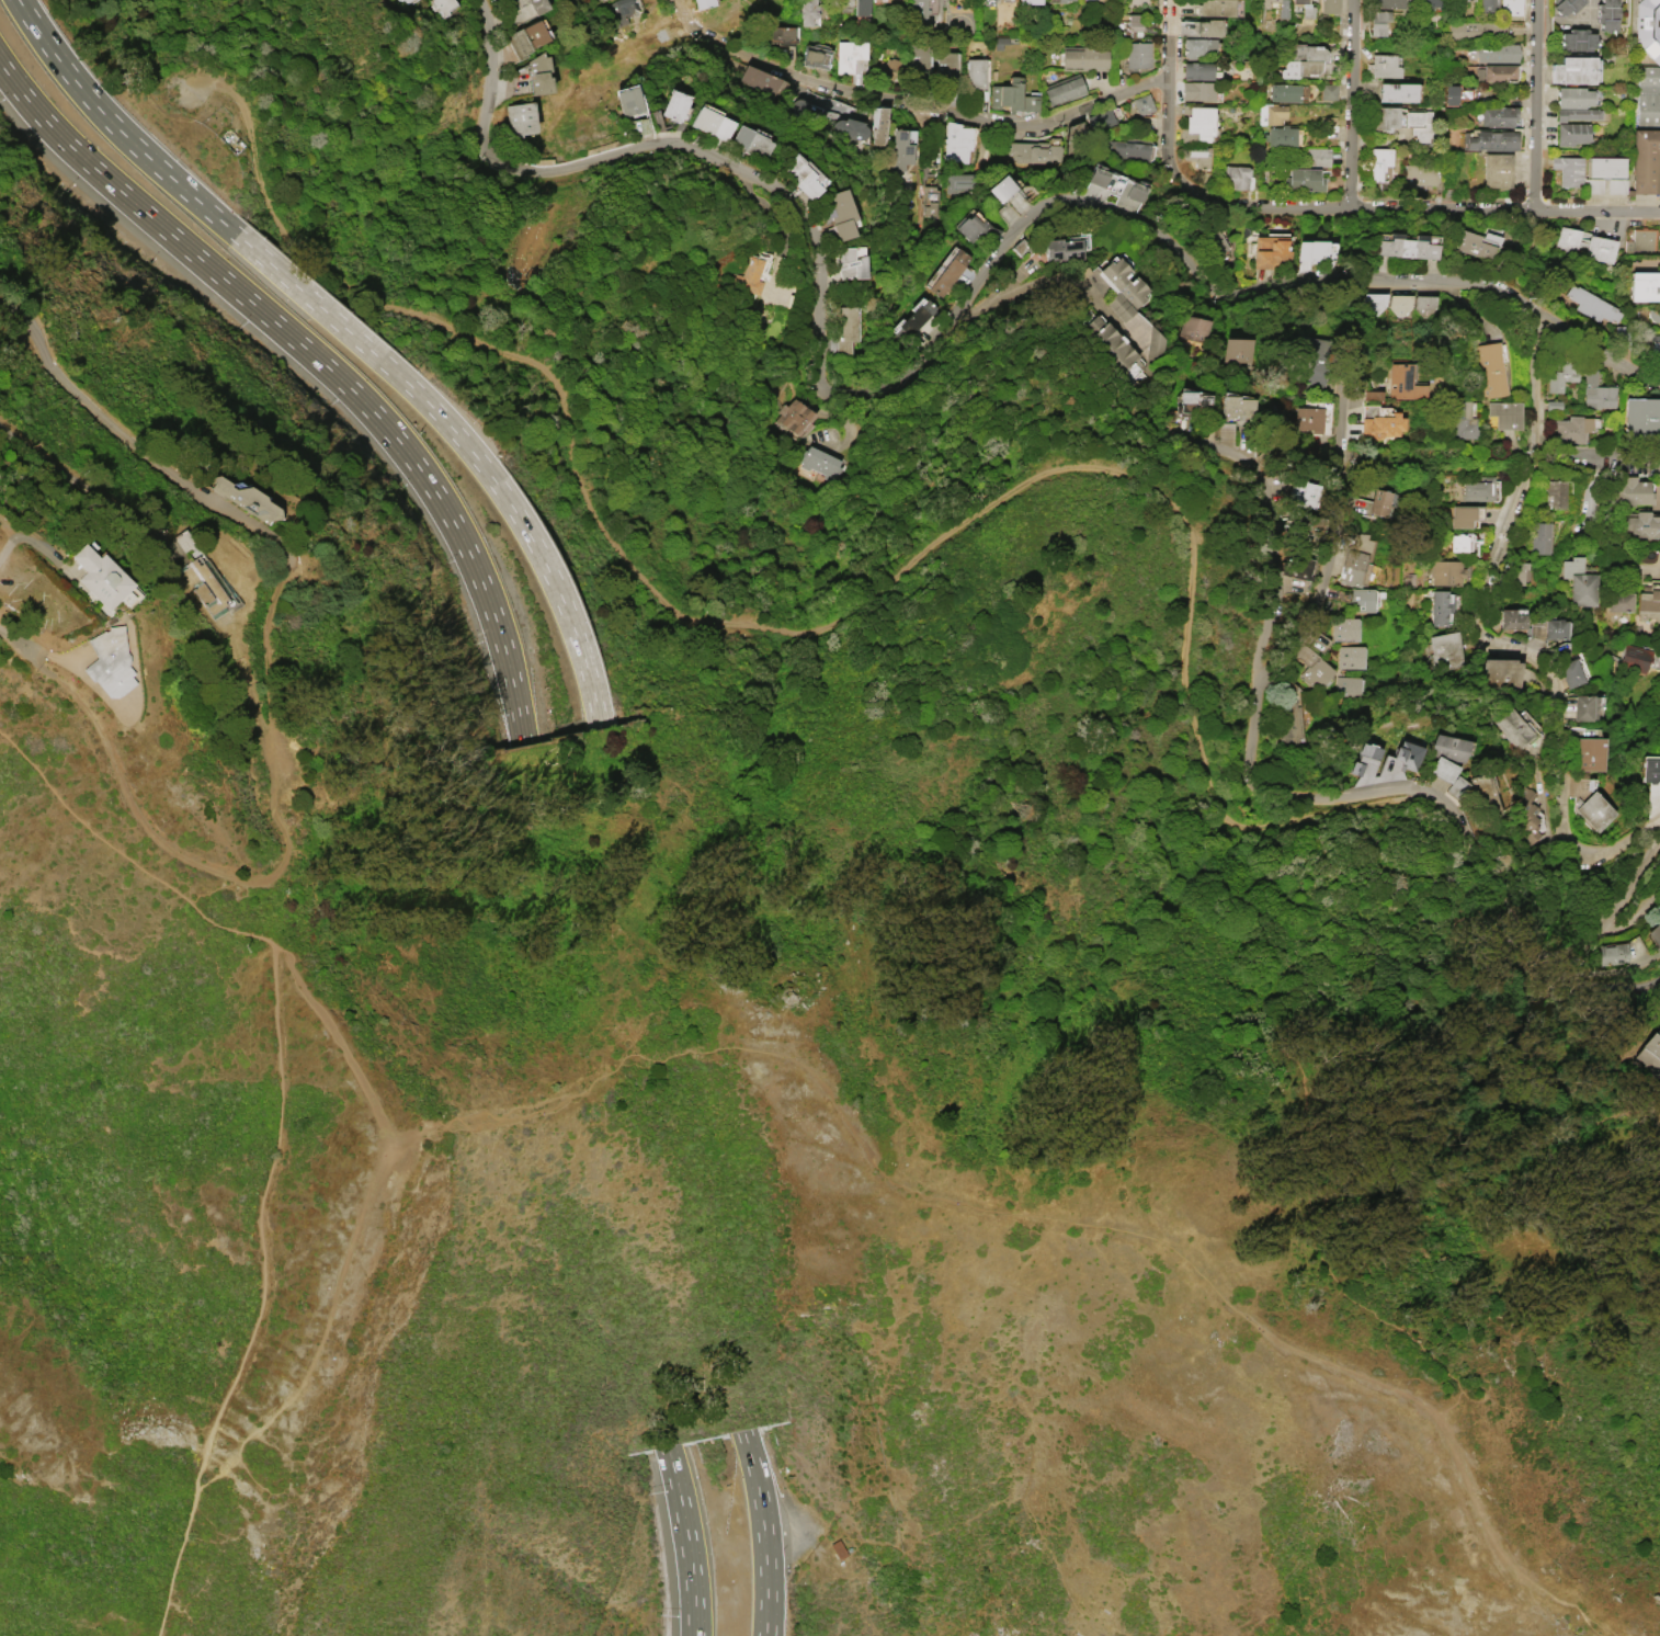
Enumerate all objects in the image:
building: (406, 0)
building: (1066, 0)
building: (843, 1)
building: (1028, 1)
building: (1055, 1)
building: (988, 2)
building: (1426, 3)
building: (445, 4)
building: (531, 4)
building: (704, 4)
building: (1385, 4)
building: (1487, 4)
building: (1565, 5)
building: (1328, 7)
building: (861, 8)
building: (1214, 8)
building: (1511, 8)
building: (919, 10)
building: (621, 11)
building: (808, 11)
building: (1281, 11)
building: (1305, 11)
building: (1606, 14)
building: (1377, 22)
building: (1134, 25)
building: (1648, 26)
building: (1207, 27)
building: (1477, 30)
building: (781, 35)
building: (526, 38)
building: (1576, 39)
building: (1197, 47)
building: (1497, 53)
building: (849, 55)
building: (816, 56)
building: (917, 58)
building: (1137, 58)
building: (1085, 59)
building: (1300, 60)
building: (945, 66)
building: (1380, 66)
building: (889, 67)
building: (1196, 70)
building: (1576, 71)
building: (975, 72)
building: (1494, 72)
building: (542, 75)
building: (760, 79)
road: (1166, 82)
road: (1636, 86)
building: (1064, 89)
building: (1196, 90)
building: (1328, 91)
building: (1395, 91)
building: (1282, 92)
building: (1453, 93)
building: (1005, 94)
building: (1648, 94)
building: (1572, 96)
road: (911, 99)
building: (629, 101)
building: (1028, 102)
building: (1141, 104)
road: (1355, 105)
road: (1533, 105)
building: (679, 106)
building: (1270, 113)
building: (1576, 113)
building: (1497, 115)
building: (1383, 117)
building: (521, 118)
building: (1103, 118)
building: (716, 124)
building: (1196, 124)
building: (1418, 124)
building: (879, 125)
building: (851, 127)
road: (120, 130)
building: (1570, 133)
building: (1280, 137)
building: (1488, 140)
building: (757, 143)
building: (956, 143)
building: (900, 149)
building: (1126, 150)
building: (1032, 151)
building: (1198, 156)
building: (1317, 157)
building: (1378, 161)
building: (1647, 162)
building: (1603, 166)
building: (1568, 170)
building: (1498, 171)
building: (800, 175)
building: (1418, 175)
building: (1095, 177)
building: (1235, 177)
building: (1303, 179)
building: (1592, 185)
building: (1615, 185)
building: (1000, 188)
building: (1133, 191)
building: (930, 200)
road: (1406, 211)
building: (839, 213)
building: (975, 231)
building: (1217, 237)
building: (1567, 239)
building: (1640, 239)
building: (1473, 245)
building: (1408, 248)
building: (1060, 249)
building: (1599, 249)
building: (1270, 251)
building: (1312, 251)
building: (850, 261)
building: (950, 272)
building: (748, 276)
road: (1051, 276)
building: (1646, 286)
building: (1121, 288)
building: (1374, 302)
building: (1398, 303)
building: (1423, 304)
building: (1591, 304)
building: (1653, 315)
road: (952, 318)
building: (913, 319)
building: (1193, 328)
building: (845, 329)
building: (1114, 345)
building: (1237, 349)
building: (1658, 351)
building: (1314, 359)
road: (322, 362)
building: (1494, 371)
building: (1559, 376)
building: (1401, 382)
building: (1596, 391)
building: (1371, 395)
building: (1191, 402)
building: (1553, 405)
building: (1236, 407)
building: (1642, 416)
building: (796, 417)
building: (1506, 417)
building: (1308, 418)
building: (1462, 420)
building: (1380, 425)
building: (1571, 428)
road: (135, 448)
road: (470, 451)
road: (1622, 459)
building: (819, 462)
road: (62, 472)
building: (1480, 488)
building: (1631, 490)
building: (1299, 493)
building: (1555, 495)
building: (247, 500)
building: (1377, 502)
building: (1464, 515)
building: (1645, 524)
building: (1538, 537)
building: (1456, 543)
road: (7, 547)
road: (1333, 559)
building: (1353, 559)
building: (1446, 572)
building: (1520, 572)
building: (102, 576)
building: (1294, 576)
building: (1579, 581)
building: (205, 584)
building: (1360, 600)
building: (1619, 601)
building: (1649, 602)
building: (1441, 607)
road: (832, 618)
building: (1511, 618)
building: (1343, 628)
building: (1553, 629)
building: (1316, 639)
road: (1487, 640)
road: (21, 646)
road: (268, 649)
building: (1446, 650)
building: (1350, 656)
building: (1634, 658)
building: (110, 661)
building: (1316, 672)
building: (1570, 672)
building: (1499, 673)
building: (1348, 685)
building: (1584, 707)
building: (1288, 720)
building: (1516, 730)
building: (1590, 753)
building: (1406, 754)
building: (1445, 754)
building: (1363, 760)
building: (1650, 769)
building: (1456, 786)
road: (1251, 794)
building: (1483, 795)
building: (1528, 814)
building: (1596, 815)
road: (187, 856)
road: (1628, 887)
road: (208, 891)
road: (1634, 917)
building: (1655, 931)
building: (1613, 953)
road: (1606, 978)
building: (1651, 1055)
road: (277, 1125)
road: (356, 1219)
road: (1431, 1357)
road: (762, 1531)
road: (686, 1538)
road: (1496, 1543)
building: (837, 1548)

